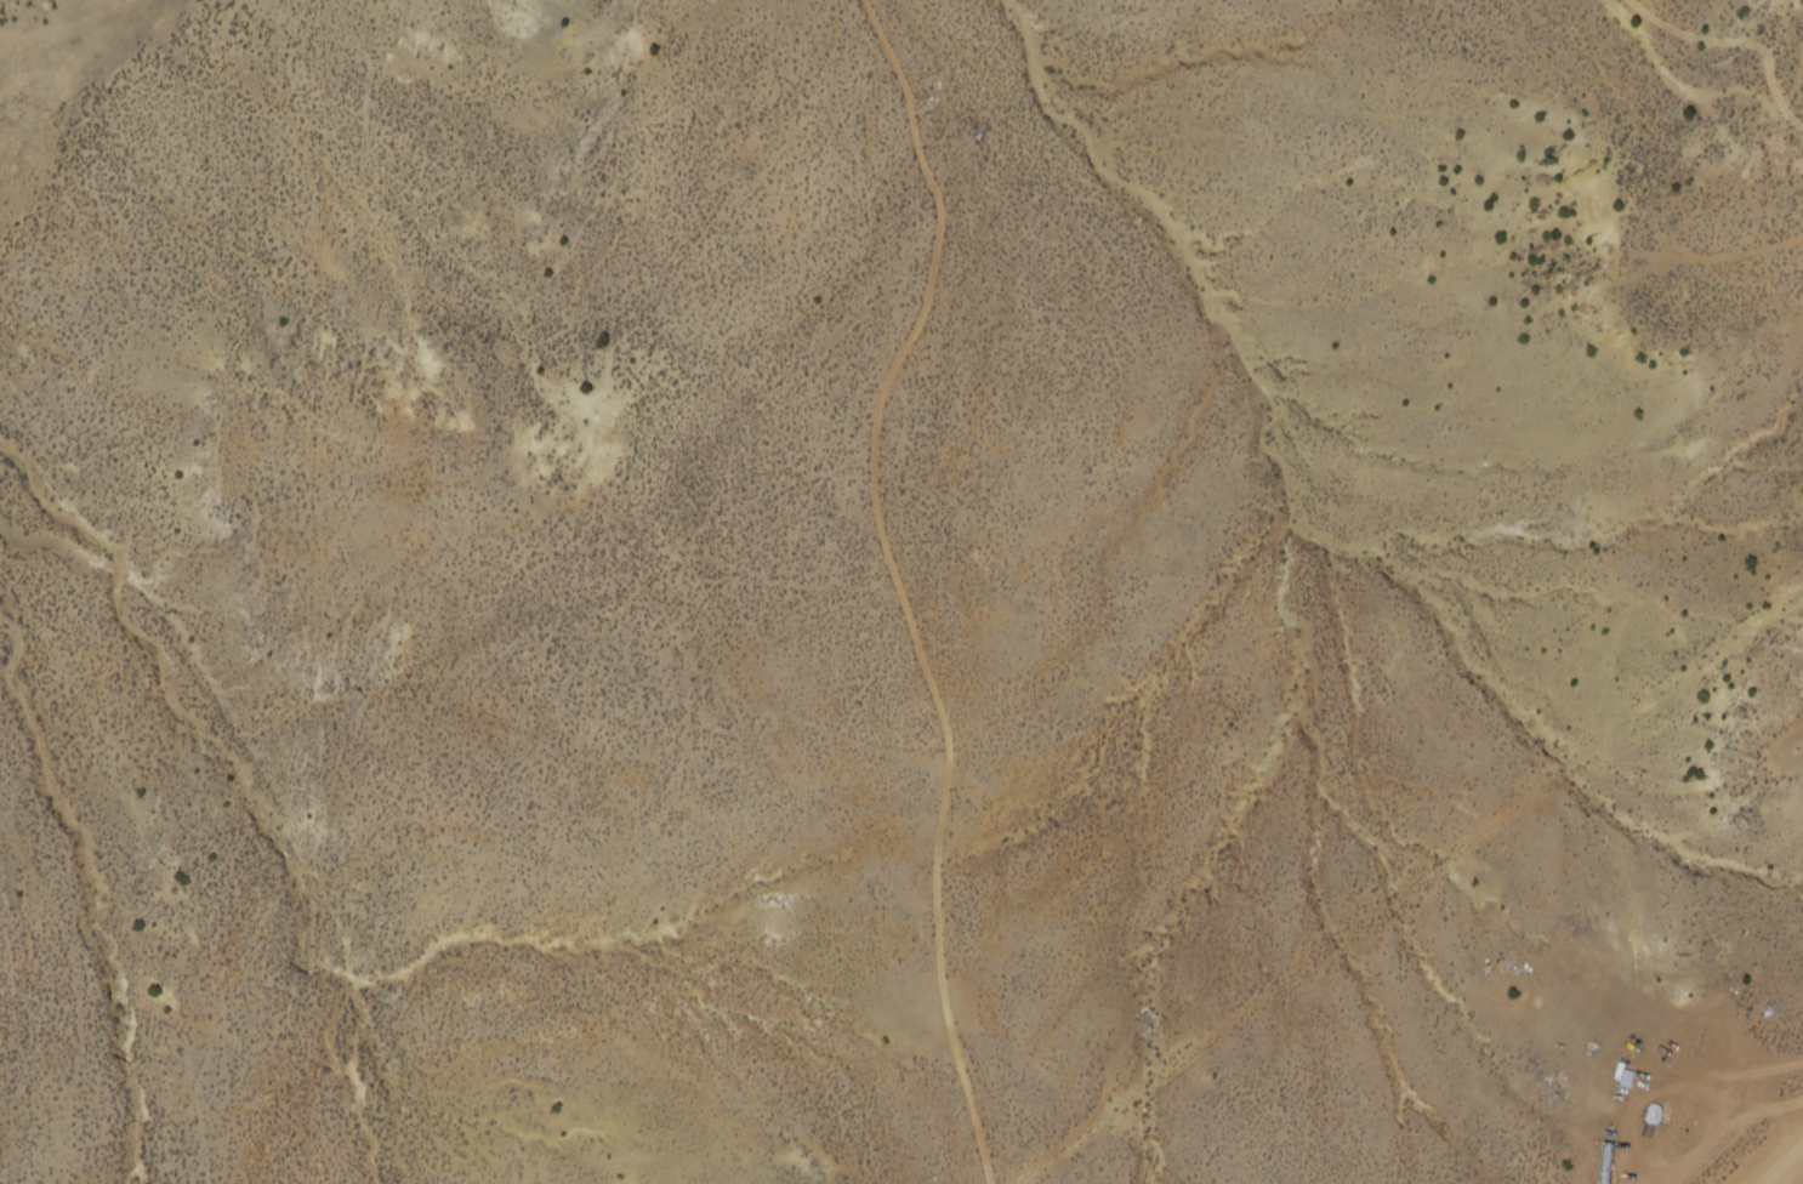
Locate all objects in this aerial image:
building: (1654, 1112)
road: (1782, 1166)

